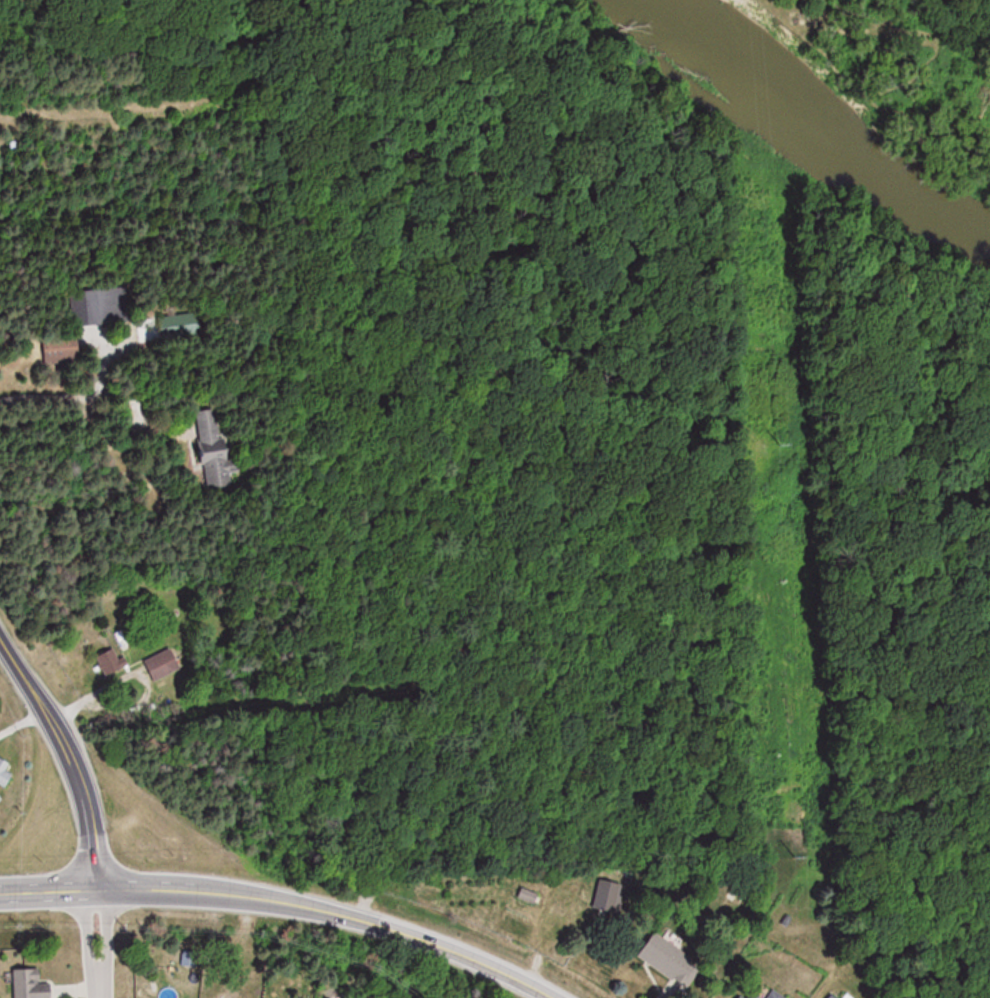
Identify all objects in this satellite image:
river: (812, 124)
building: (59, 349)
road: (46, 398)
power tower: (780, 441)
building: (209, 447)
building: (109, 662)
building: (161, 664)
road: (20, 714)
road: (73, 759)
building: (5, 772)
power tower: (793, 849)
building: (528, 895)
road: (281, 903)
road: (97, 944)
building: (669, 961)
building: (32, 984)
building: (775, 994)
building: (745, 995)
building: (832, 996)
building: (845, 996)

